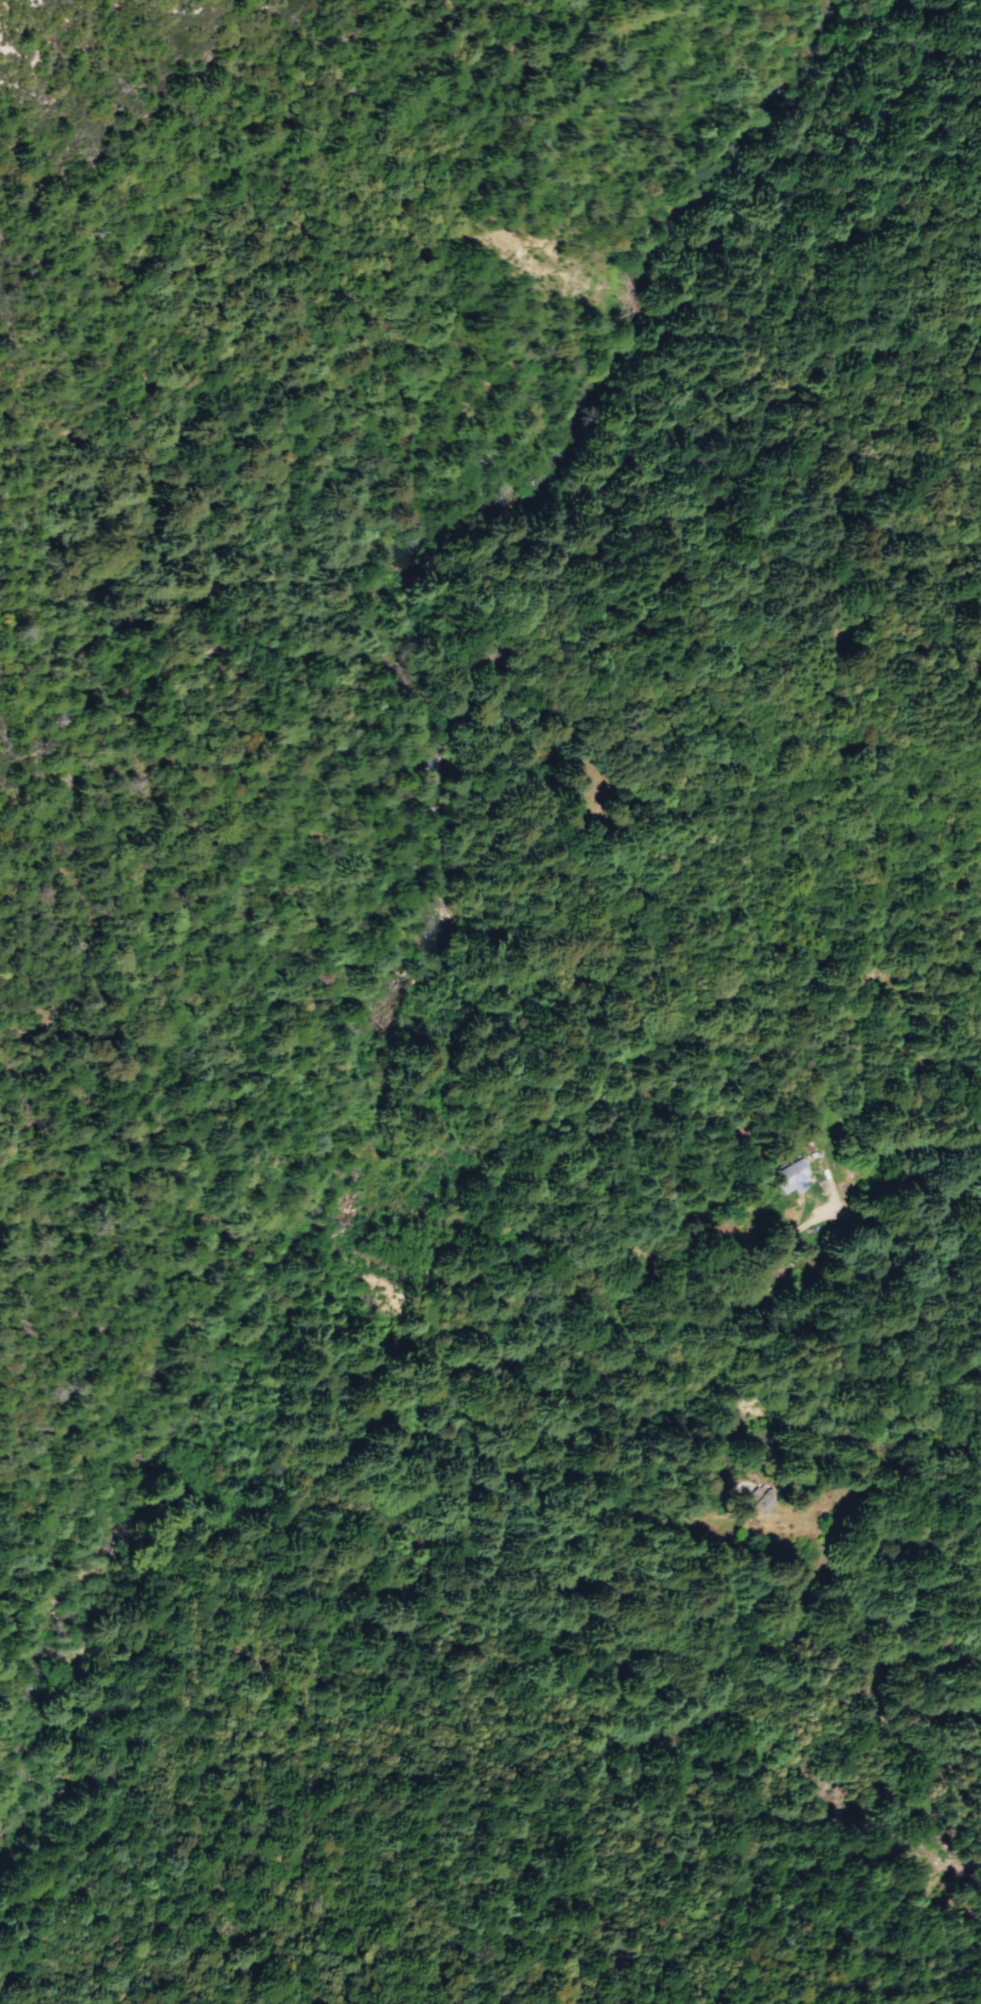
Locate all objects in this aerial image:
road: (896, 966)
building: (798, 1179)
building: (757, 1503)

